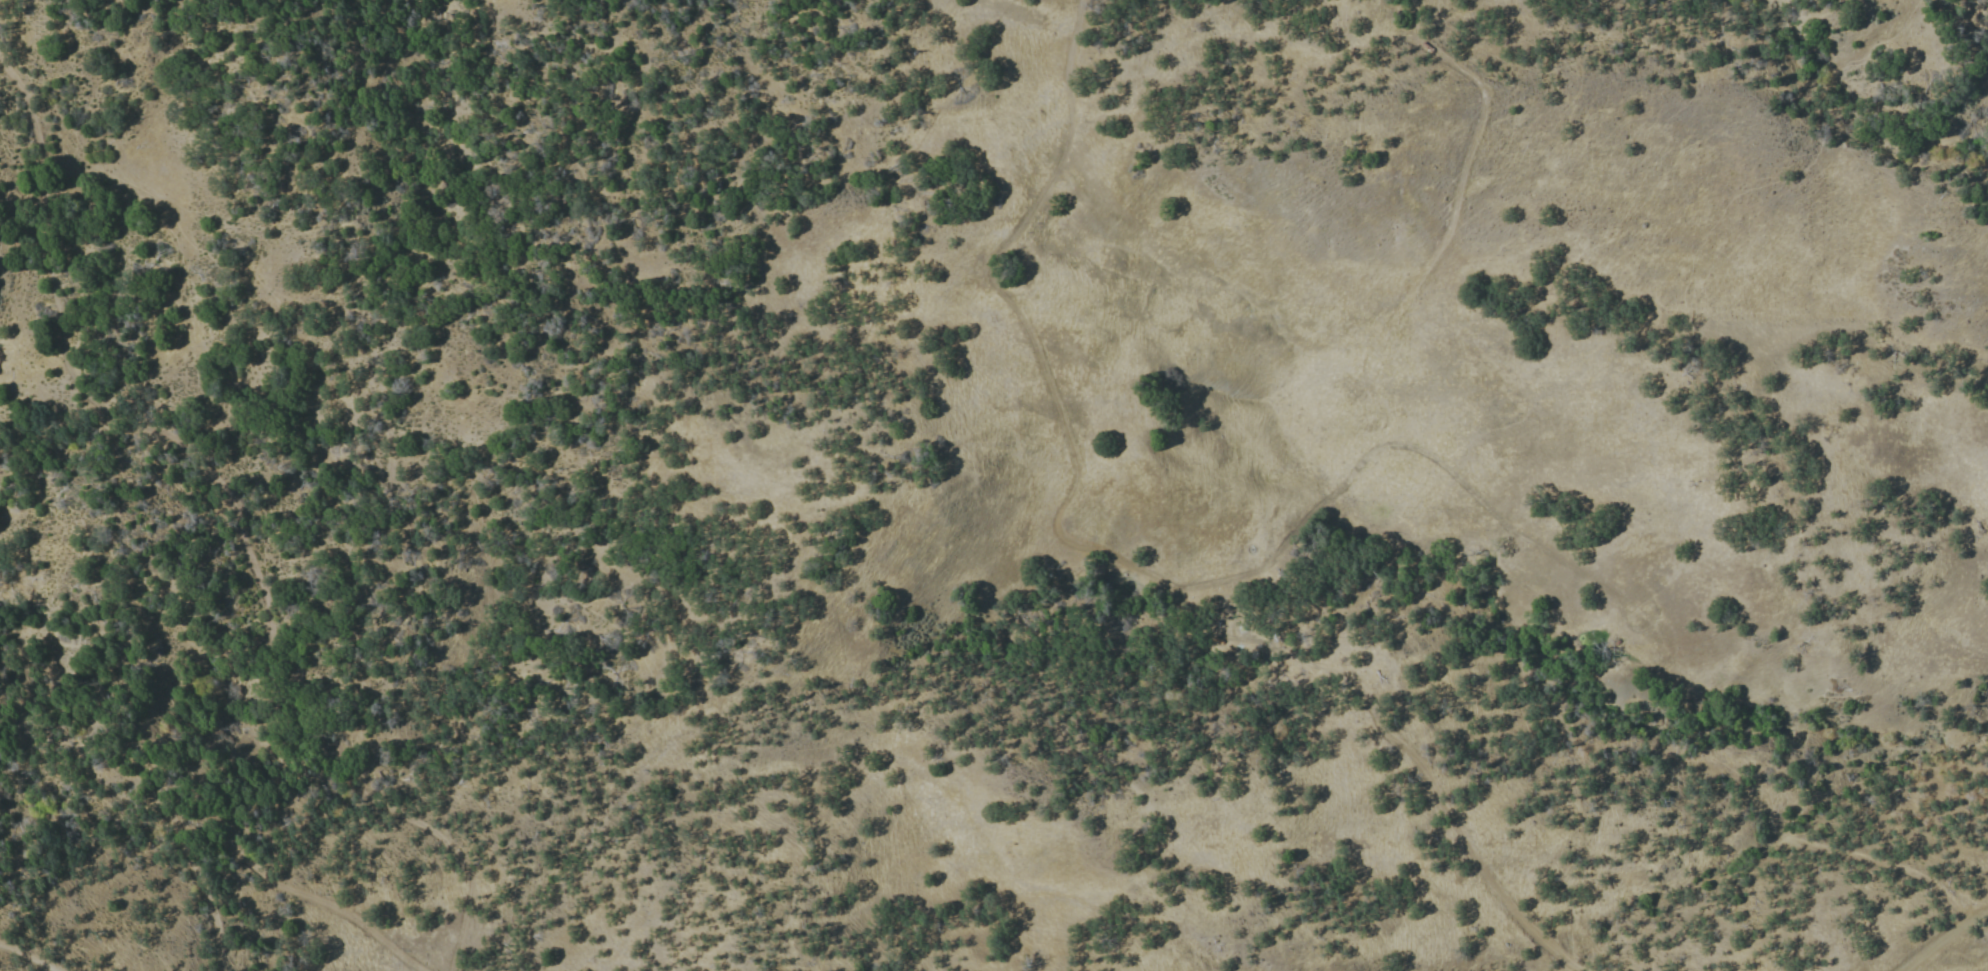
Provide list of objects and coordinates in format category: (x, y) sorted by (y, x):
road: (1361, 358)
road: (1038, 359)
road: (231, 514)
road: (1426, 779)
road: (1878, 862)
road: (247, 865)
road: (1940, 938)
road: (26, 957)

